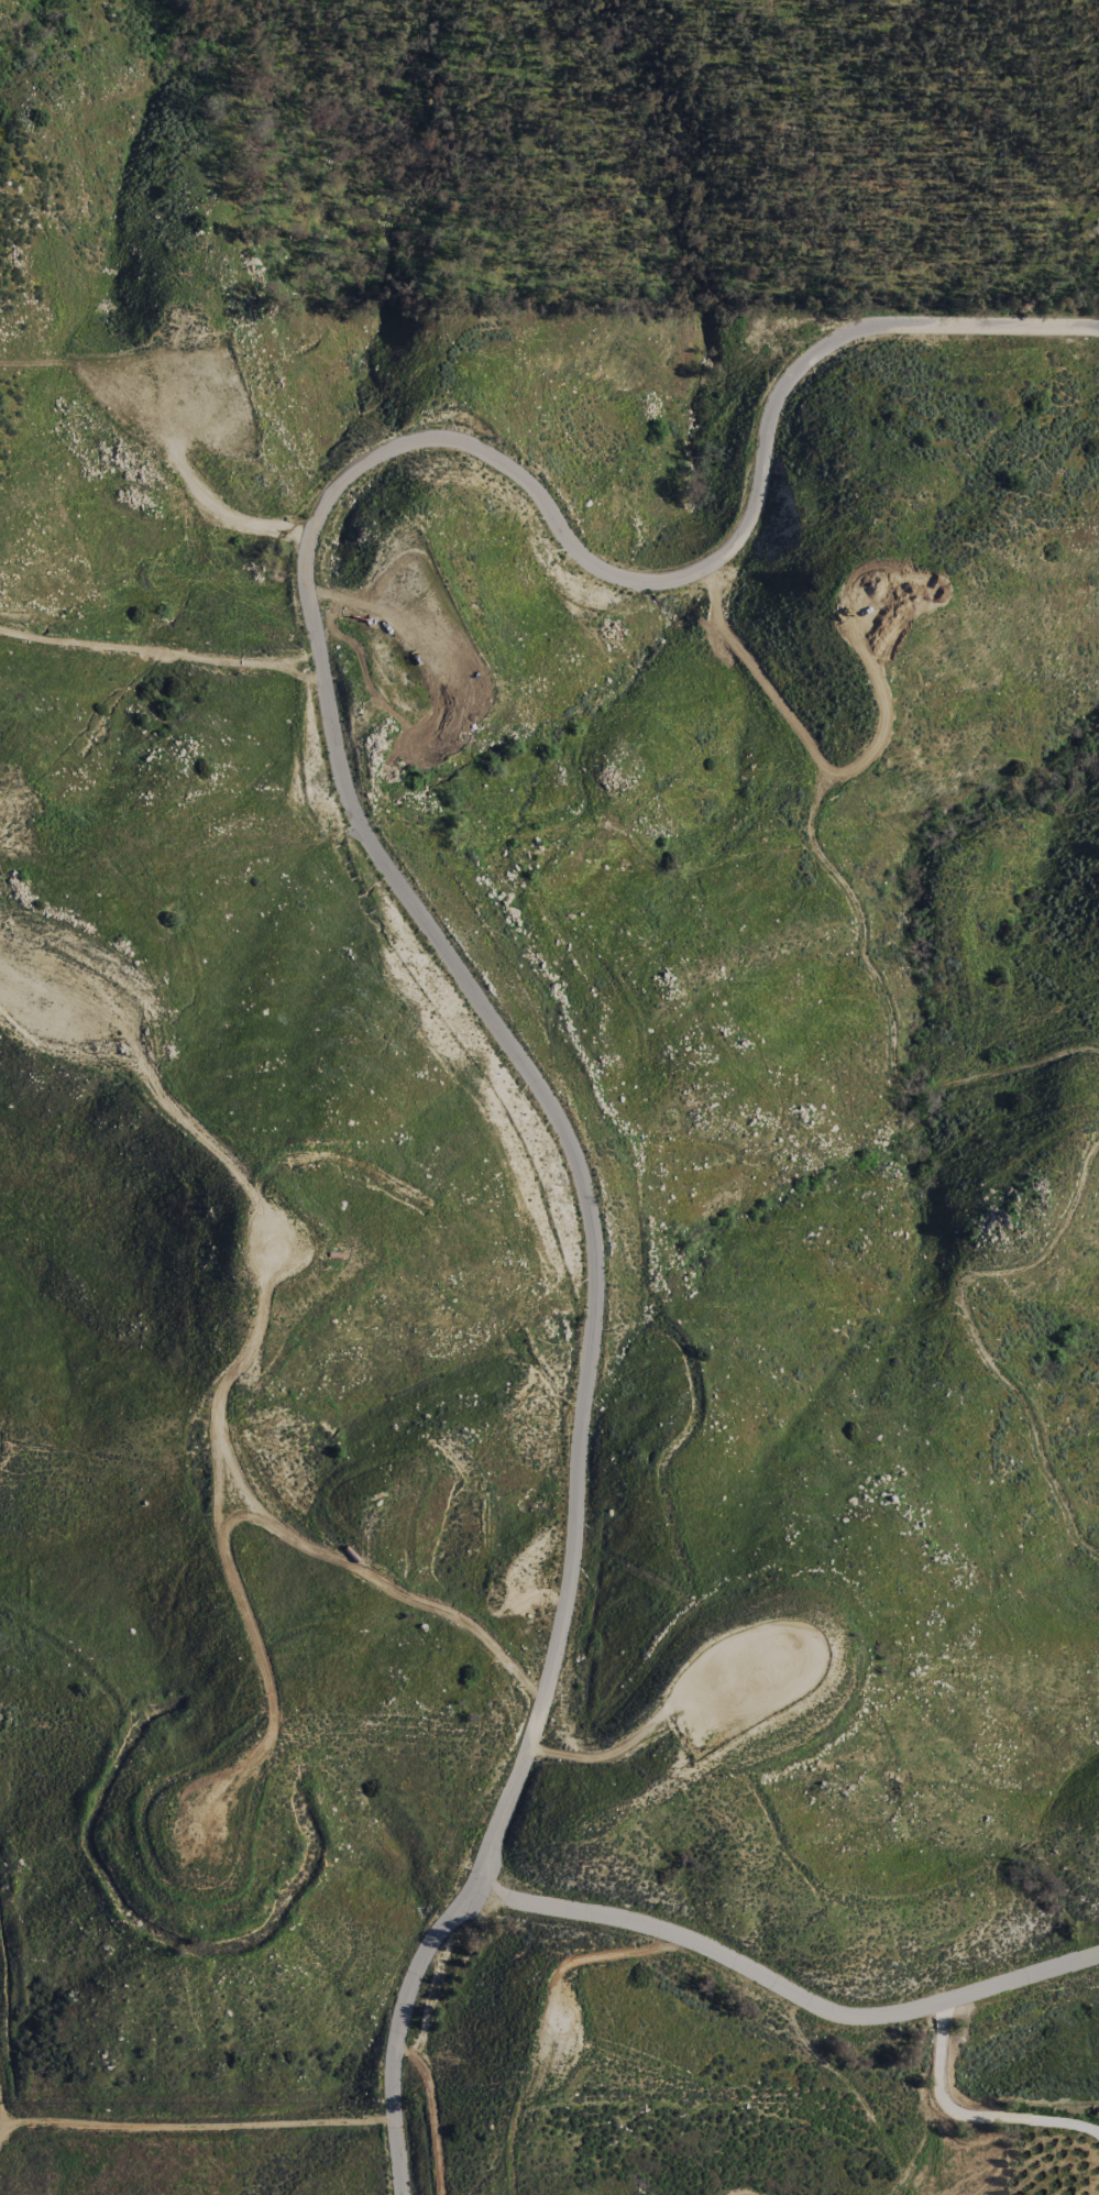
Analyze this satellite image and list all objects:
road: (873, 672)
road: (399, 884)
road: (854, 911)
road: (978, 1327)
road: (249, 1354)
road: (678, 1709)
road: (938, 1788)
road: (785, 1989)
road: (968, 2115)
road: (1, 2127)
road: (195, 2129)

